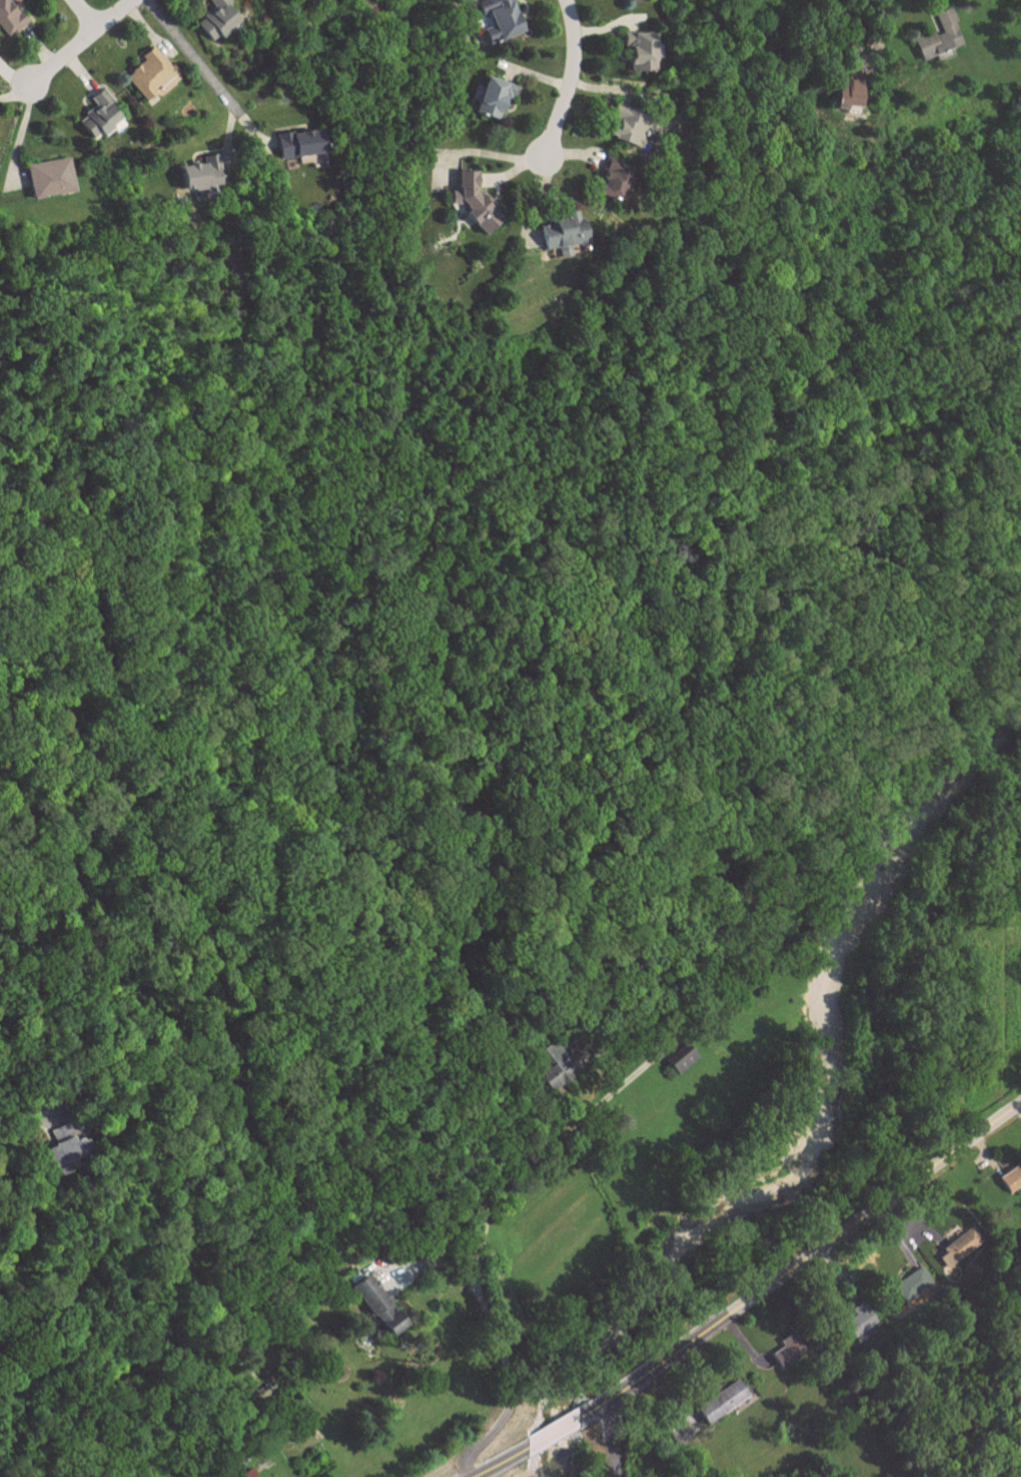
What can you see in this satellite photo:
building: (626, 0)
road: (86, 13)
building: (8, 18)
building: (497, 20)
building: (213, 23)
building: (938, 36)
road: (881, 41)
road: (79, 43)
building: (638, 52)
road: (188, 56)
building: (149, 72)
road: (570, 80)
building: (845, 95)
building: (493, 96)
building: (96, 116)
building: (627, 127)
building: (297, 144)
road: (494, 154)
building: (49, 178)
building: (611, 180)
building: (471, 201)
building: (560, 235)
building: (680, 1058)
building: (566, 1059)
road: (16, 1124)
building: (63, 1148)
building: (1011, 1178)
road: (491, 1203)
building: (962, 1244)
road: (815, 1255)
building: (912, 1284)
building: (375, 1303)
building: (857, 1320)
building: (787, 1350)
building: (720, 1401)
road: (517, 1424)
road: (608, 1441)

